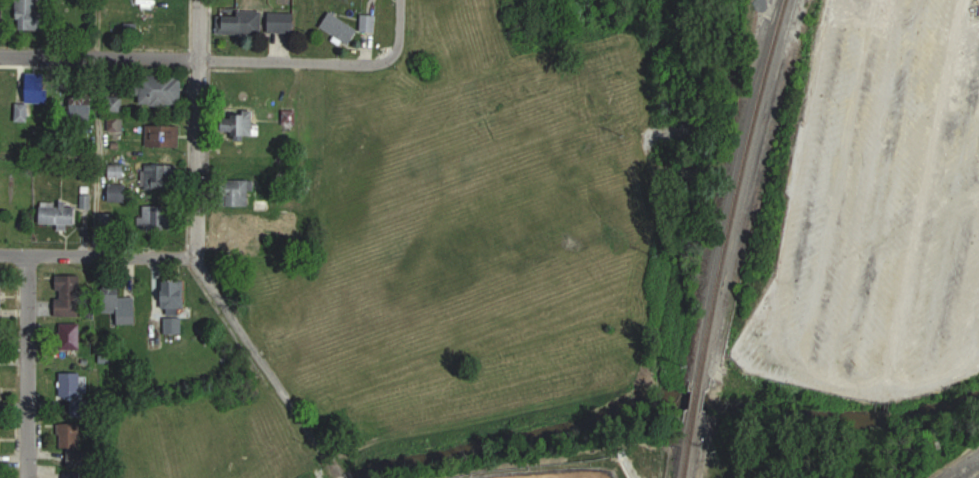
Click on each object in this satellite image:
building: (32, 16)
building: (2, 19)
building: (282, 21)
building: (240, 22)
building: (371, 22)
building: (341, 27)
road: (403, 29)
road: (198, 60)
building: (163, 90)
building: (32, 99)
building: (116, 104)
building: (83, 105)
building: (290, 117)
building: (243, 124)
road: (95, 125)
building: (115, 125)
road: (197, 127)
building: (164, 135)
building: (161, 177)
building: (119, 192)
building: (240, 192)
building: (59, 214)
building: (154, 218)
building: (239, 229)
railway: (723, 237)
road: (94, 254)
building: (1, 297)
building: (70, 298)
building: (175, 306)
building: (124, 308)
building: (72, 335)
road: (266, 365)
road: (30, 366)
building: (1, 384)
building: (72, 389)
building: (0, 435)
building: (76, 443)
building: (74, 475)

